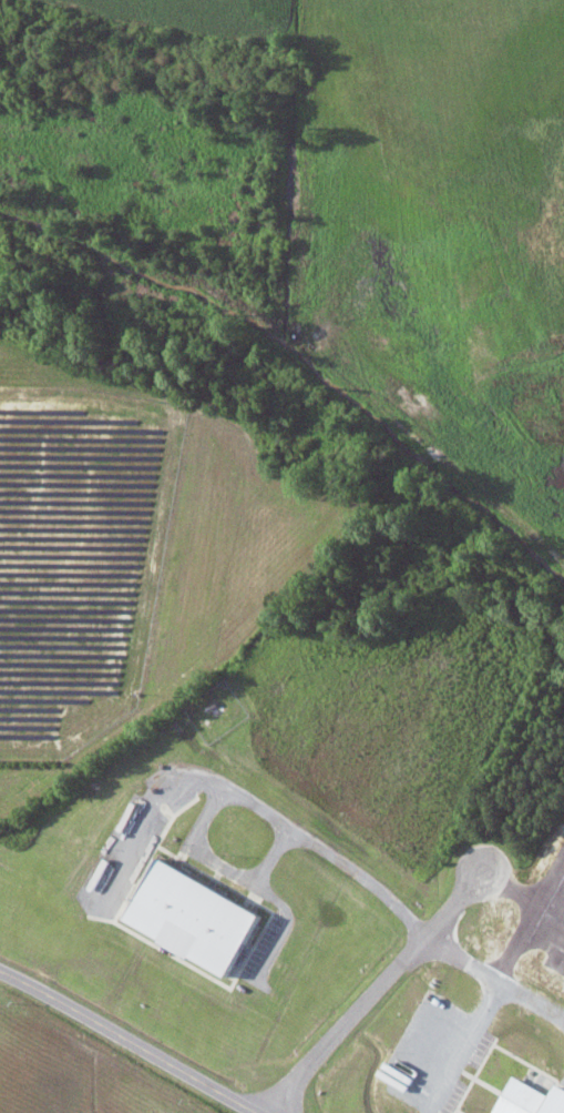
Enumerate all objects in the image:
solar farm: (79, 557)
building: (195, 917)
road: (129, 1039)
building: (531, 1099)

